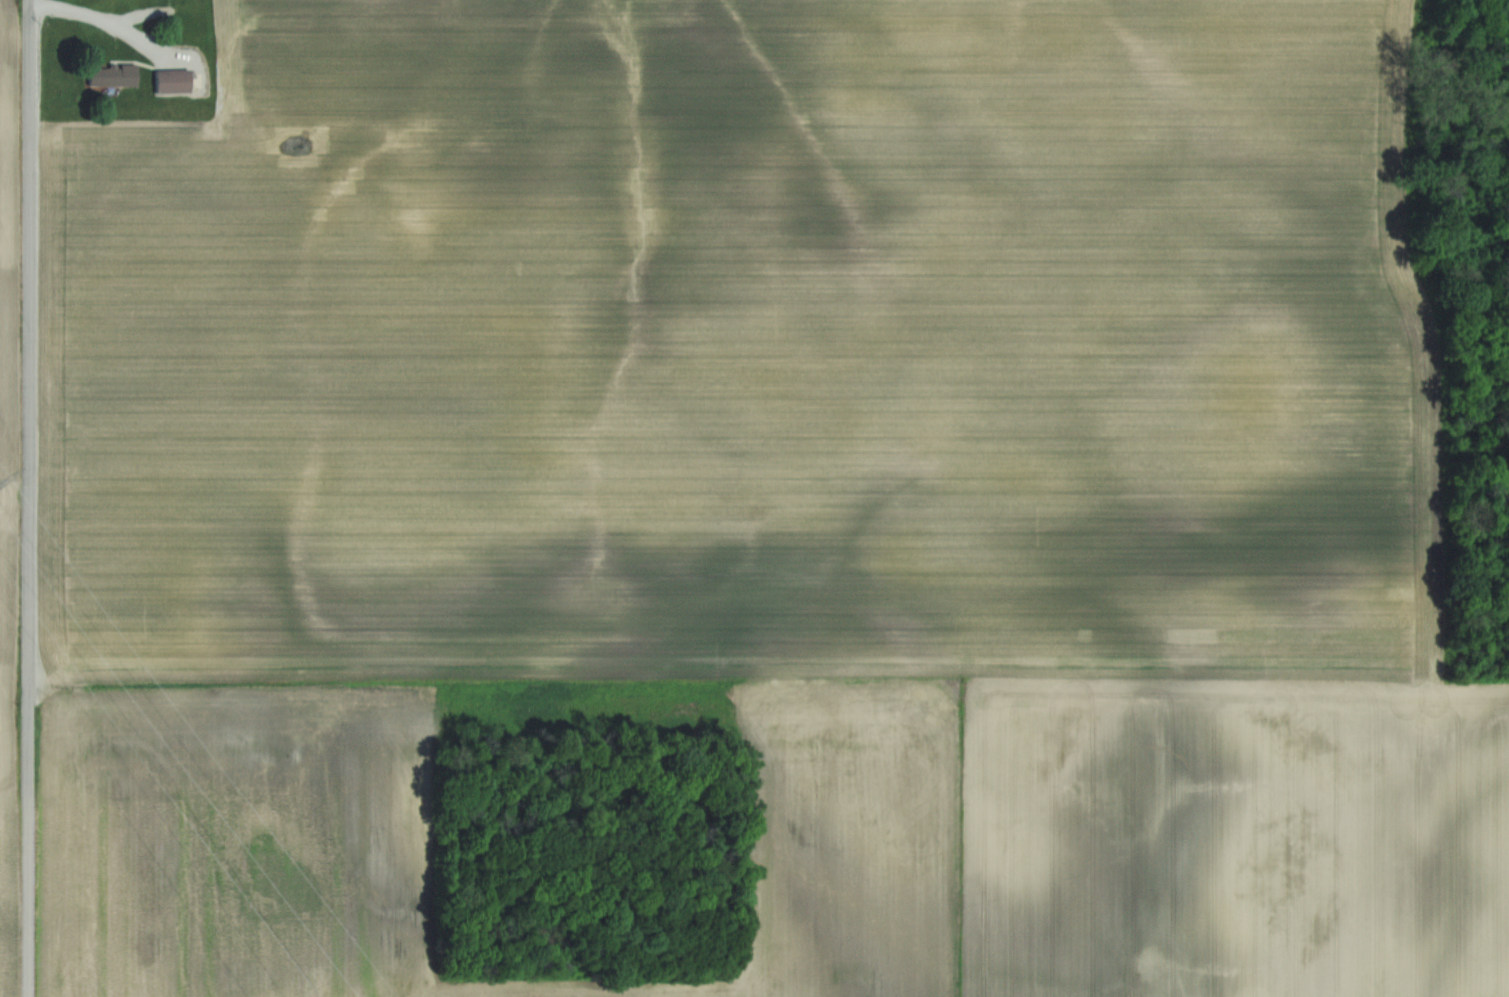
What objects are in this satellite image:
road: (99, 19)
building: (115, 75)
building: (175, 81)
road: (27, 498)

